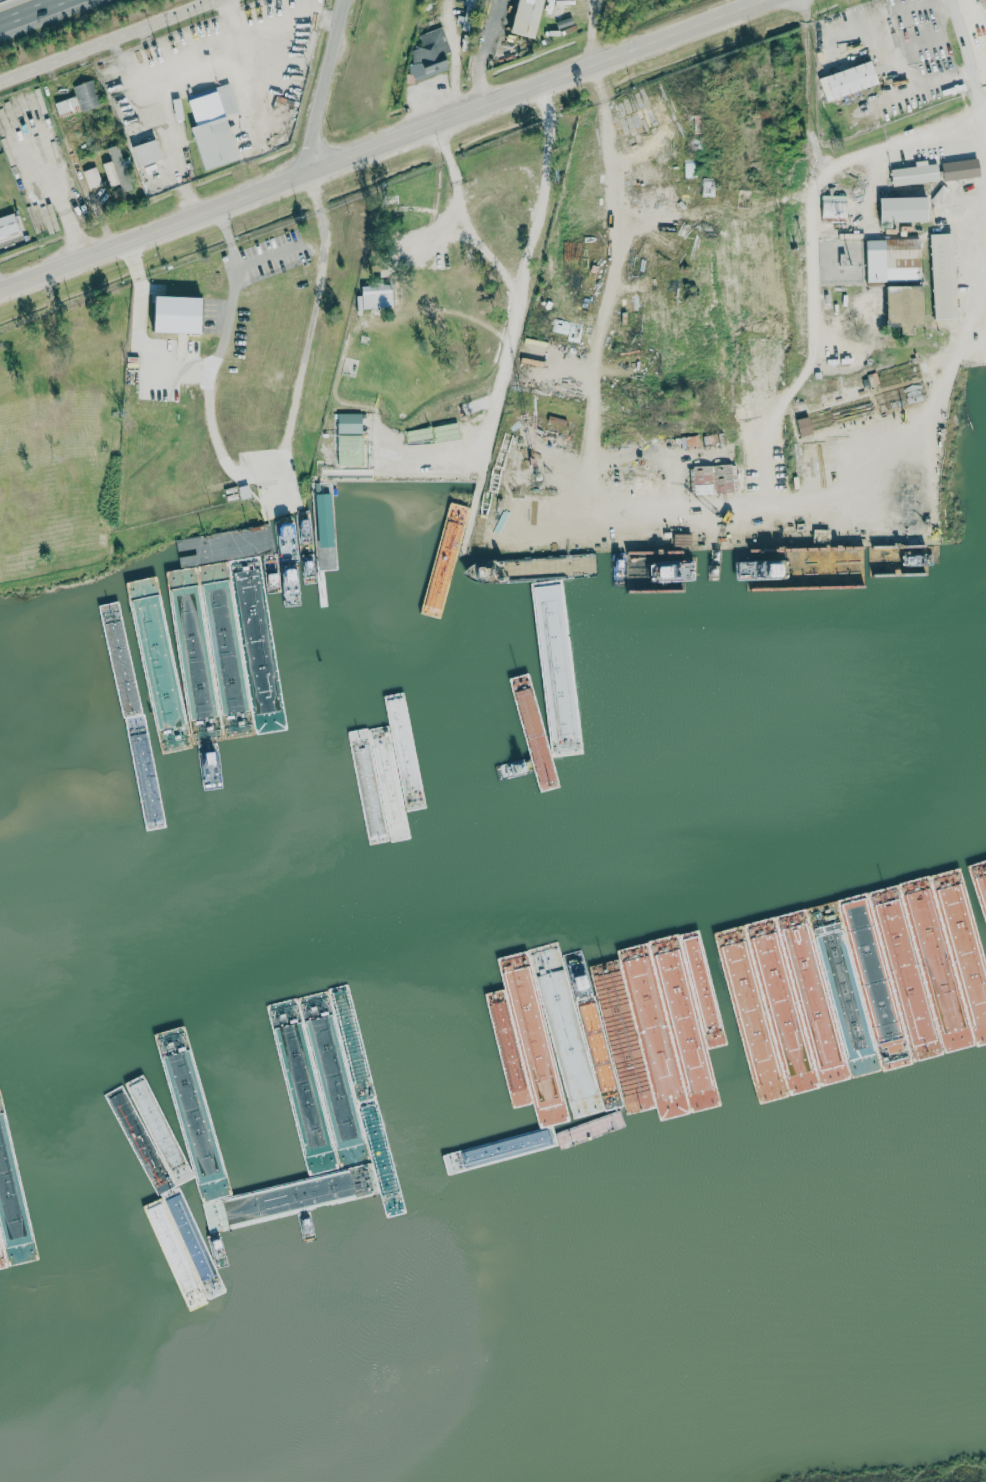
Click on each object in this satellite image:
road: (34, 13)
building: (531, 17)
road: (111, 42)
building: (430, 53)
road: (967, 54)
building: (844, 80)
road: (338, 84)
road: (928, 87)
building: (79, 100)
road: (985, 109)
road: (386, 146)
building: (148, 153)
road: (828, 163)
building: (955, 169)
building: (118, 170)
building: (910, 174)
building: (92, 177)
road: (60, 203)
building: (829, 206)
building: (896, 209)
road: (460, 213)
building: (8, 225)
building: (888, 259)
building: (938, 276)
road: (609, 278)
road: (232, 294)
building: (377, 297)
road: (508, 303)
building: (896, 307)
building: (182, 315)
building: (827, 418)
building: (351, 422)
road: (266, 460)
building: (713, 478)
building: (881, 492)
building: (910, 502)
building: (782, 524)

